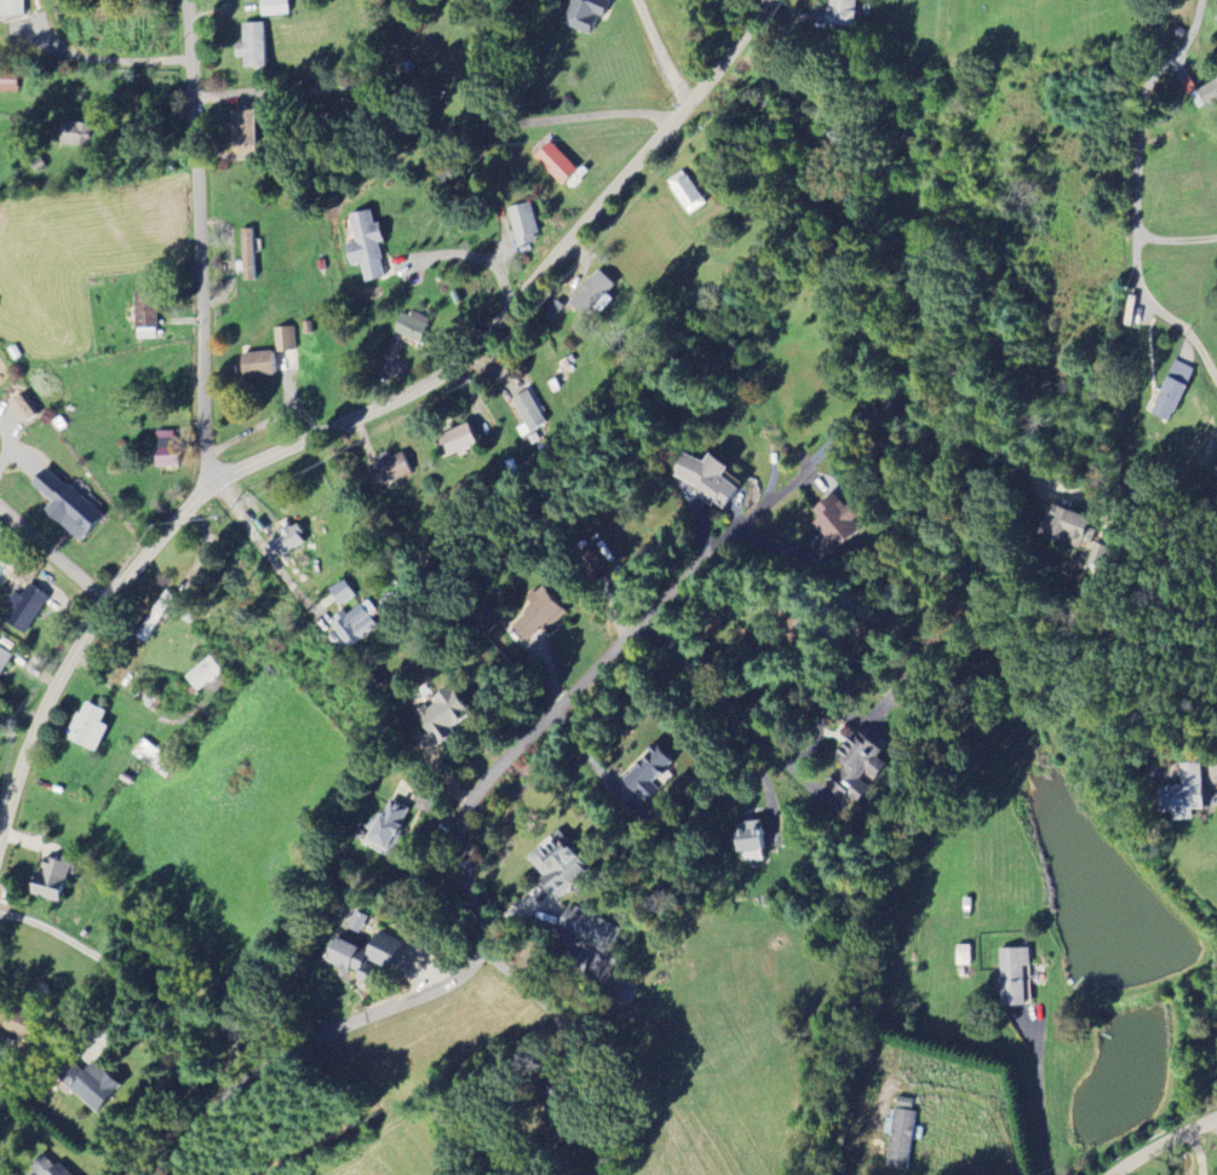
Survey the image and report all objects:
building: (274, 6)
building: (12, 7)
building: (842, 12)
building: (584, 13)
building: (251, 45)
road: (661, 52)
road: (103, 59)
building: (7, 81)
road: (486, 126)
building: (242, 129)
building: (74, 133)
building: (556, 162)
building: (687, 191)
road: (1135, 195)
building: (523, 224)
road: (1175, 241)
road: (199, 243)
building: (364, 246)
building: (248, 254)
building: (592, 294)
building: (553, 311)
building: (144, 318)
building: (409, 326)
building: (285, 338)
building: (256, 363)
building: (1171, 391)
building: (22, 408)
building: (528, 410)
road: (360, 414)
road: (924, 414)
building: (453, 440)
building: (163, 448)
building: (388, 470)
building: (706, 479)
building: (64, 505)
building: (833, 525)
building: (1067, 528)
road: (258, 541)
building: (286, 541)
road: (53, 554)
building: (591, 564)
building: (340, 592)
building: (23, 609)
building: (486, 618)
building: (536, 618)
building: (356, 622)
building: (148, 626)
road: (682, 657)
building: (4, 658)
building: (203, 674)
building: (440, 715)
building: (87, 726)
road: (815, 739)
road: (748, 750)
building: (851, 767)
building: (645, 773)
road: (1216, 773)
building: (1183, 794)
building: (385, 824)
building: (748, 836)
road: (464, 837)
building: (556, 864)
building: (48, 880)
building: (356, 922)
building: (589, 928)
road: (96, 951)
building: (361, 954)
building: (963, 955)
building: (573, 961)
building: (1012, 975)
road: (545, 1004)
building: (18, 1024)
building: (2, 1075)
building: (87, 1083)
road: (1038, 1096)
road: (982, 1102)
building: (900, 1139)
road: (1164, 1142)
building: (47, 1167)

